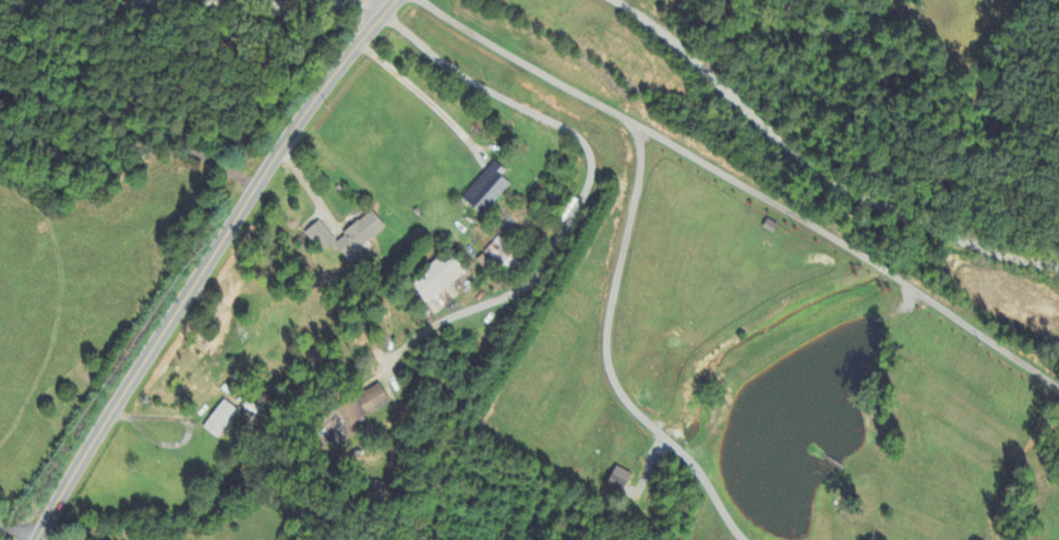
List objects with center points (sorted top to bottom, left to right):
road: (197, 14)
road: (420, 95)
road: (822, 164)
road: (587, 182)
road: (744, 188)
building: (488, 190)
building: (348, 237)
road: (204, 266)
building: (438, 279)
road: (602, 353)
building: (363, 407)
building: (220, 420)
building: (618, 480)
building: (382, 490)
road: (414, 491)
road: (147, 527)
road: (12, 535)

